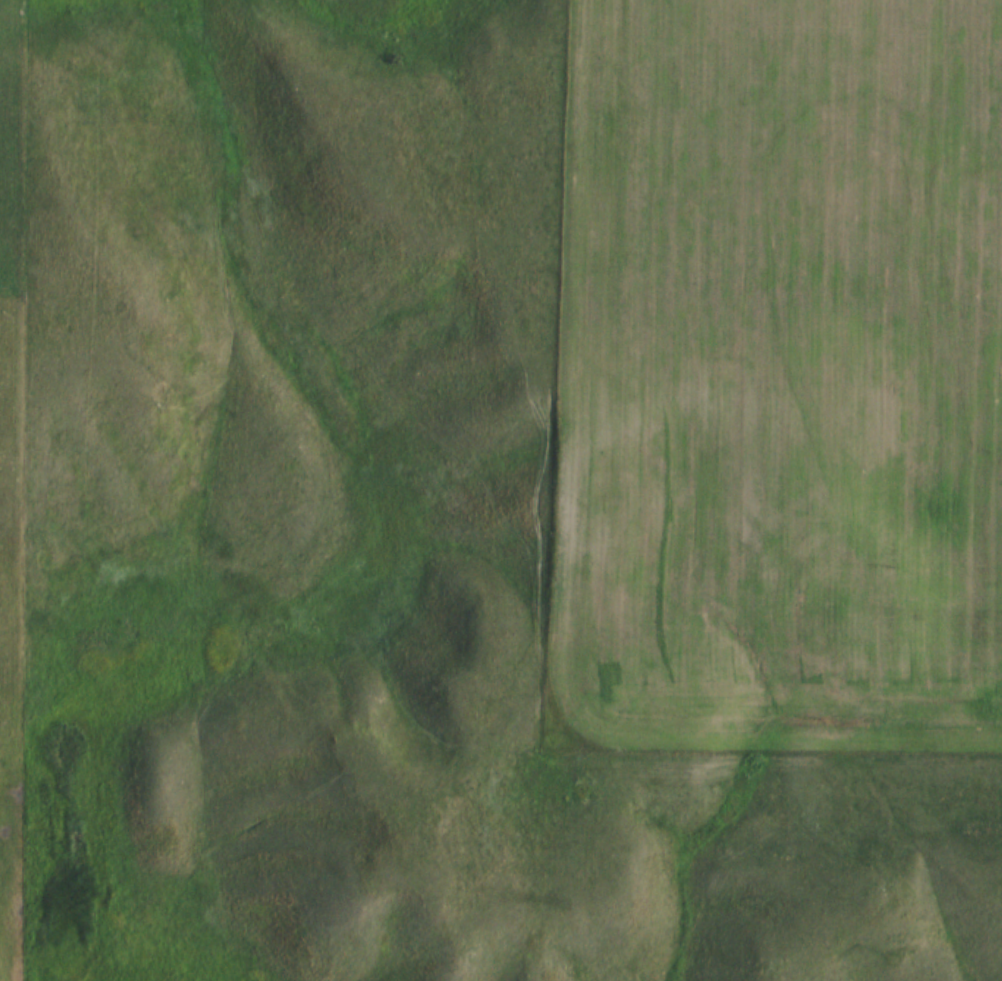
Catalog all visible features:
quarry: (25, 838)

